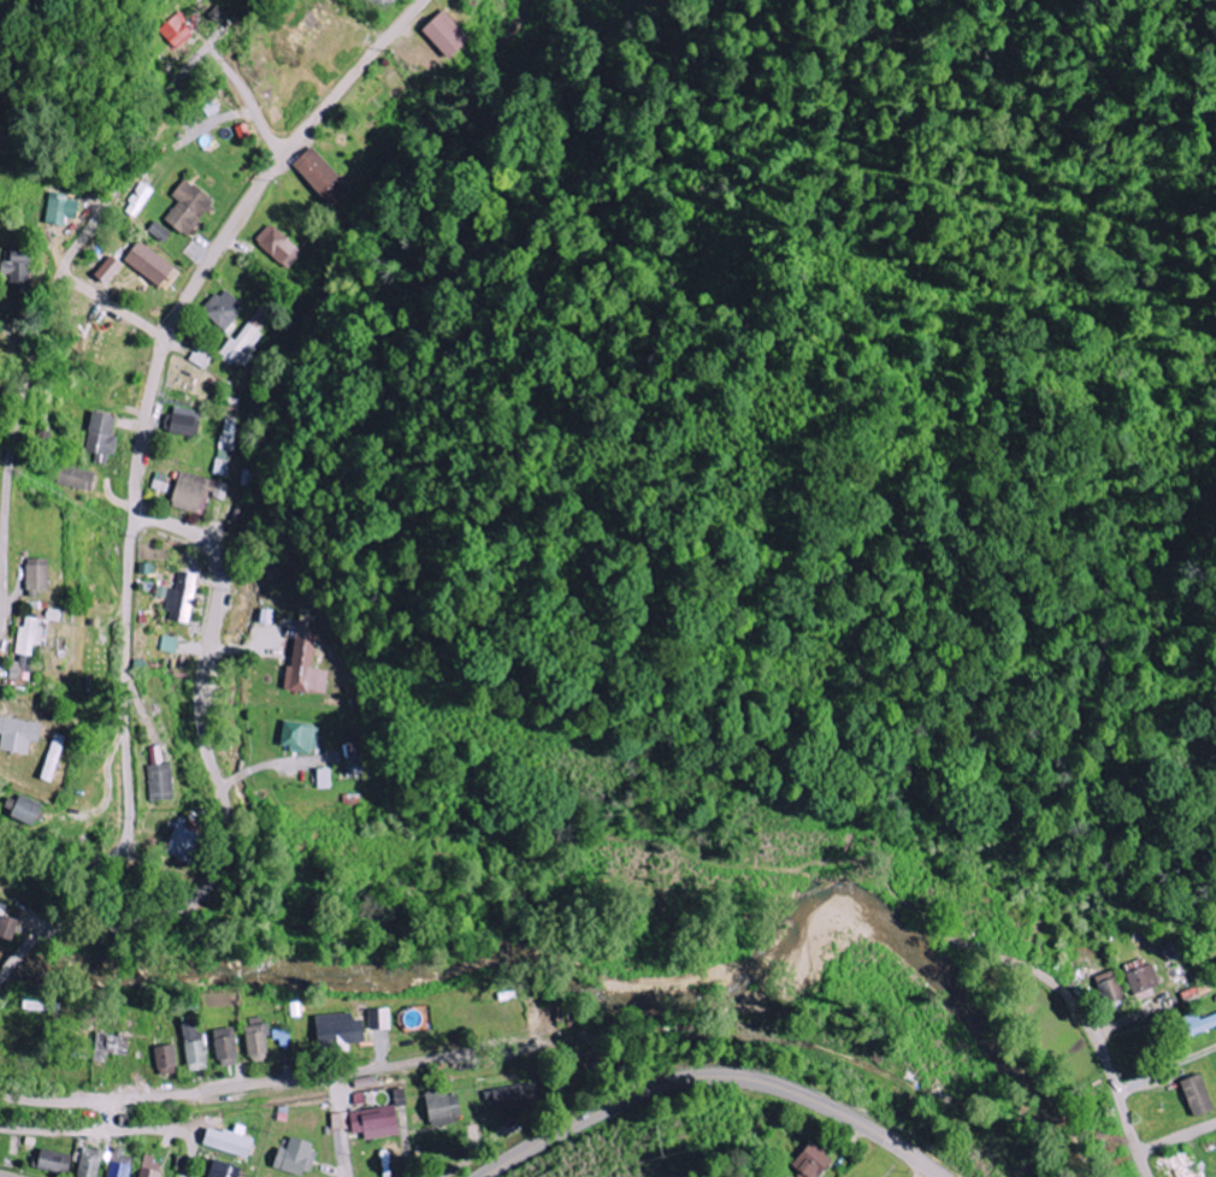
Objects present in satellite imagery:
building: (380, 5)
road: (212, 26)
building: (172, 31)
building: (449, 35)
road: (248, 103)
road: (134, 150)
road: (279, 159)
building: (323, 177)
building: (135, 201)
building: (189, 208)
building: (63, 209)
building: (161, 232)
building: (279, 247)
building: (150, 264)
building: (14, 270)
building: (111, 270)
road: (63, 271)
road: (117, 308)
building: (223, 308)
building: (244, 341)
building: (202, 357)
park: (2, 416)
building: (183, 421)
road: (146, 427)
building: (104, 436)
building: (225, 446)
road: (11, 449)
building: (76, 478)
building: (161, 483)
building: (197, 493)
road: (165, 521)
building: (40, 576)
building: (182, 597)
building: (37, 632)
building: (170, 644)
road: (230, 649)
building: (303, 656)
building: (23, 668)
building: (19, 735)
building: (299, 737)
road: (126, 743)
building: (353, 756)
building: (54, 758)
building: (326, 779)
building: (161, 783)
building: (29, 811)
road: (225, 818)
building: (184, 842)
building: (8, 923)
building: (1139, 981)
building: (1105, 987)
building: (43, 1006)
building: (382, 1018)
road: (1117, 1024)
building: (1194, 1024)
building: (341, 1030)
building: (282, 1035)
building: (116, 1043)
building: (259, 1043)
building: (196, 1046)
building: (228, 1047)
building: (169, 1059)
road: (1109, 1066)
road: (1167, 1069)
road: (713, 1077)
road: (248, 1087)
building: (1192, 1095)
building: (514, 1099)
building: (444, 1106)
building: (378, 1122)
road: (122, 1129)
road: (1177, 1137)
building: (236, 1140)
power tower: (649, 1151)
building: (297, 1157)
road: (346, 1158)
building: (54, 1160)
building: (808, 1160)
building: (90, 1163)
building: (120, 1164)
road: (460, 1164)
building: (153, 1167)
building: (228, 1170)
road: (929, 1173)
building: (1177, 1173)

